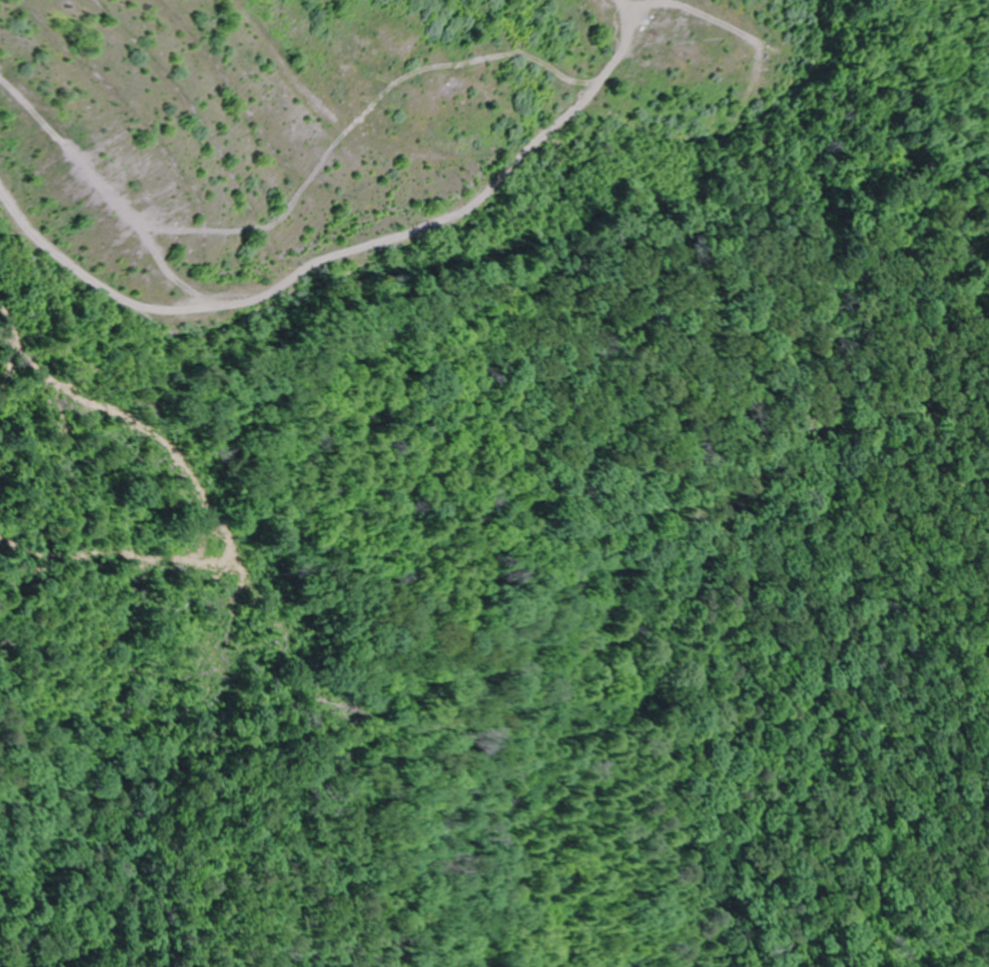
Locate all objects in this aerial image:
road: (321, 161)
road: (423, 954)

